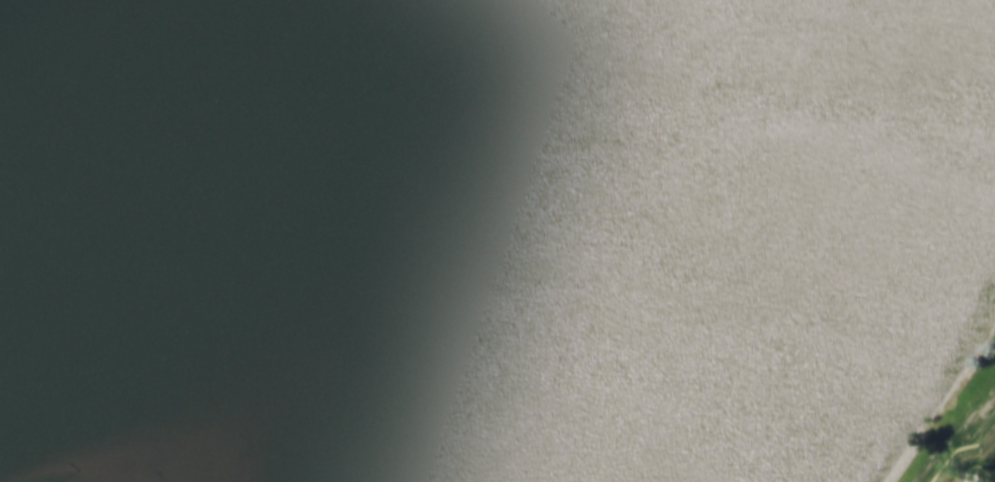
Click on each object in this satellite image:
river: (809, 241)

